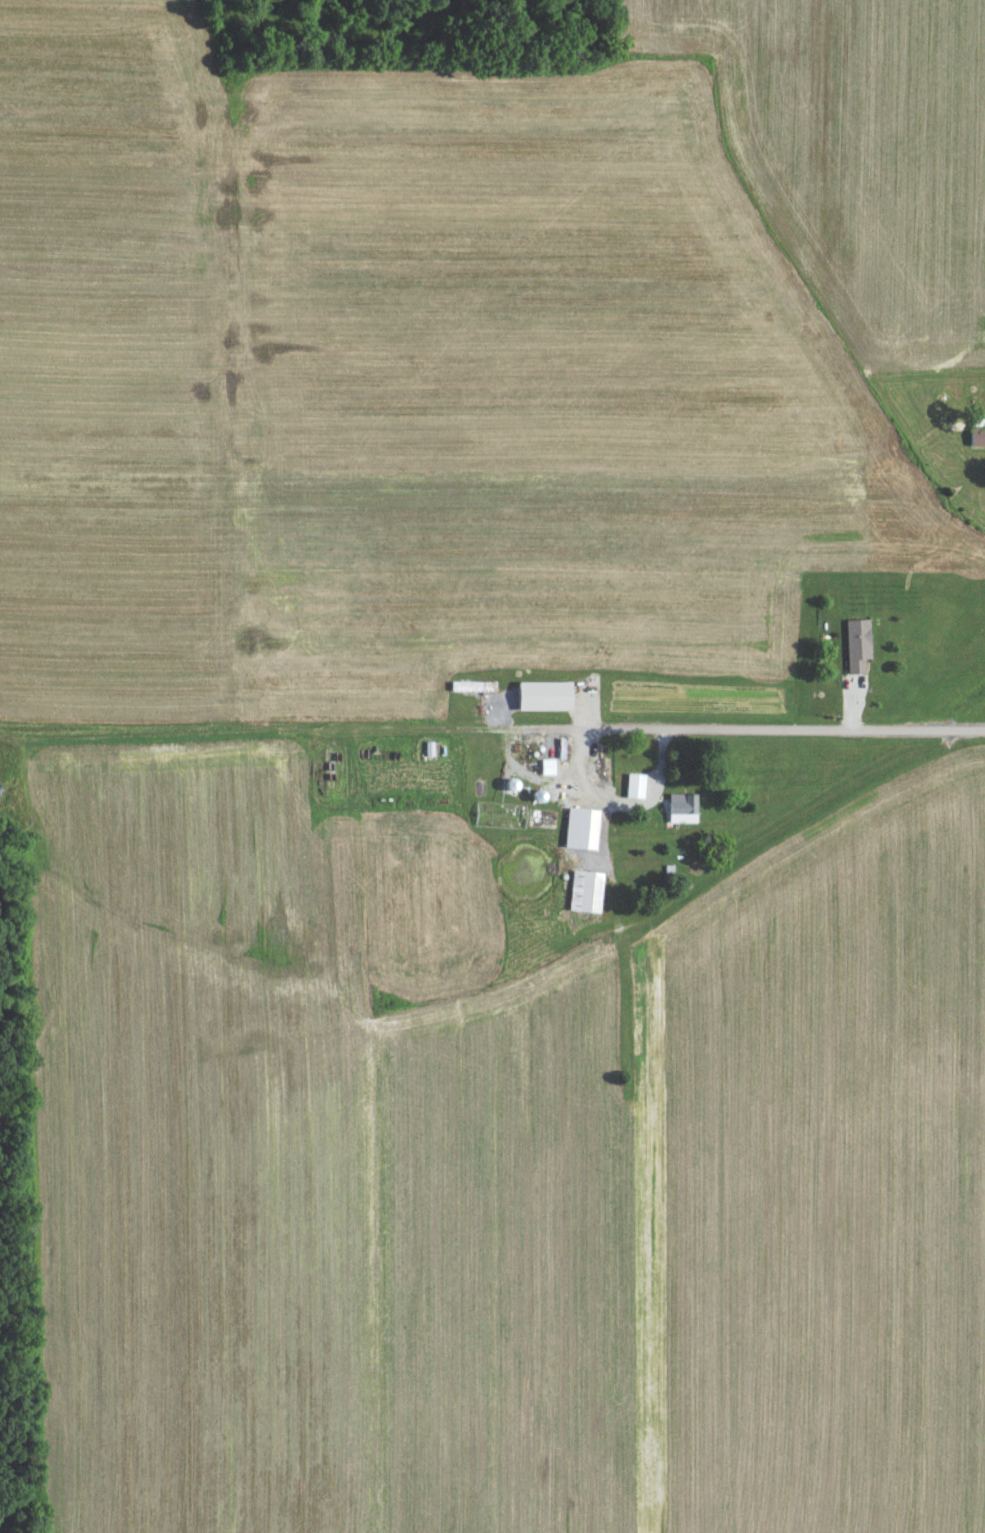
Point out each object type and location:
building: (973, 437)
building: (851, 649)
building: (537, 700)
road: (762, 727)
building: (542, 771)
building: (629, 790)
building: (676, 812)
building: (575, 832)
building: (579, 896)

